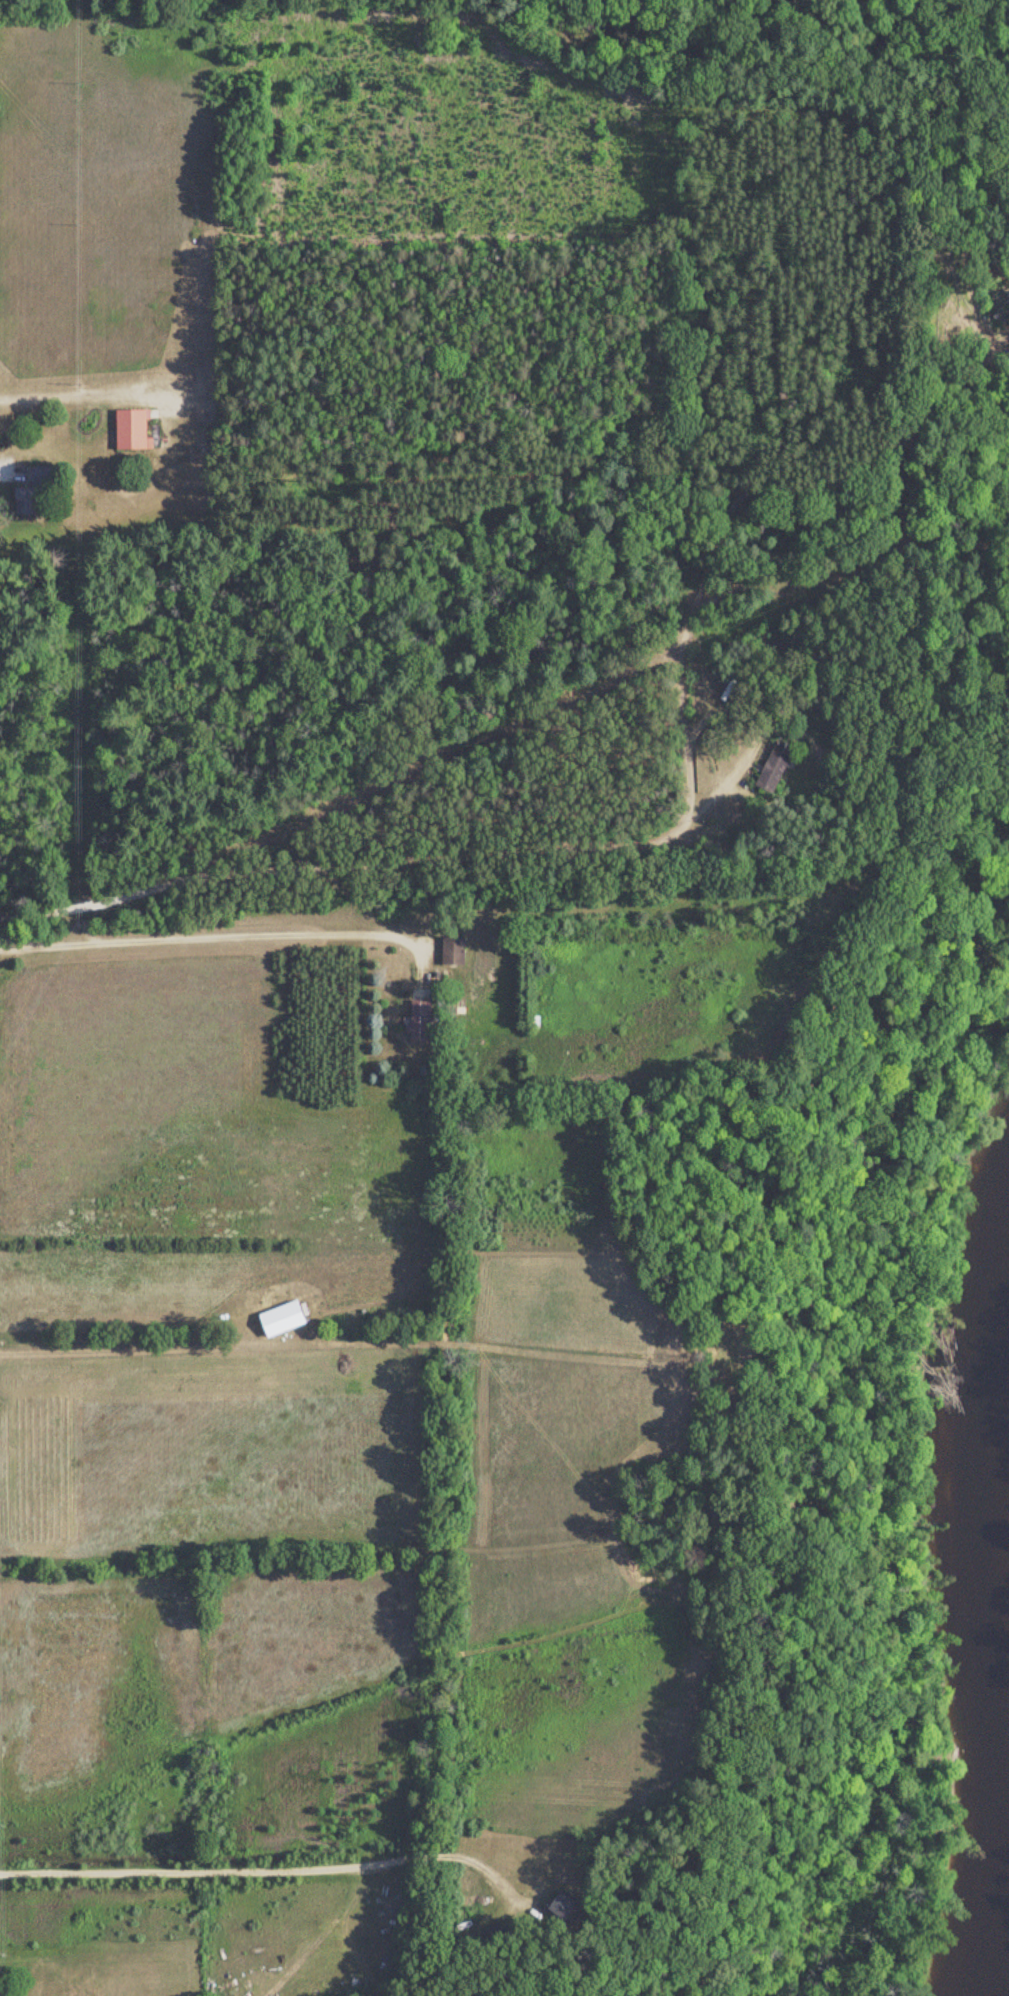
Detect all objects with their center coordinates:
road: (84, 396)
building: (129, 431)
building: (29, 492)
road: (850, 554)
road: (761, 724)
building: (772, 768)
road: (668, 838)
road: (230, 939)
building: (450, 952)
river: (987, 1489)
road: (271, 1866)
building: (558, 1906)
river: (999, 1965)

